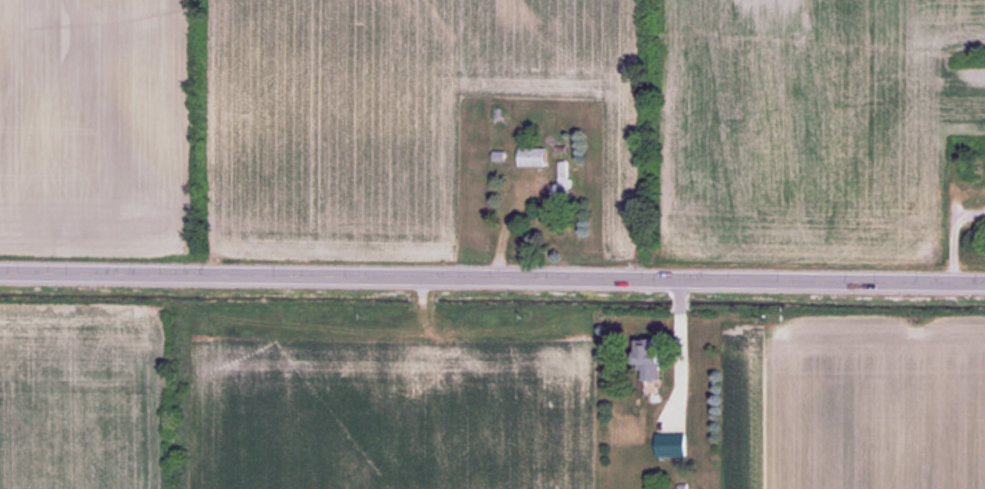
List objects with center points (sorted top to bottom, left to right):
building: (533, 157)
building: (979, 169)
building: (562, 182)
road: (492, 275)
building: (653, 359)

